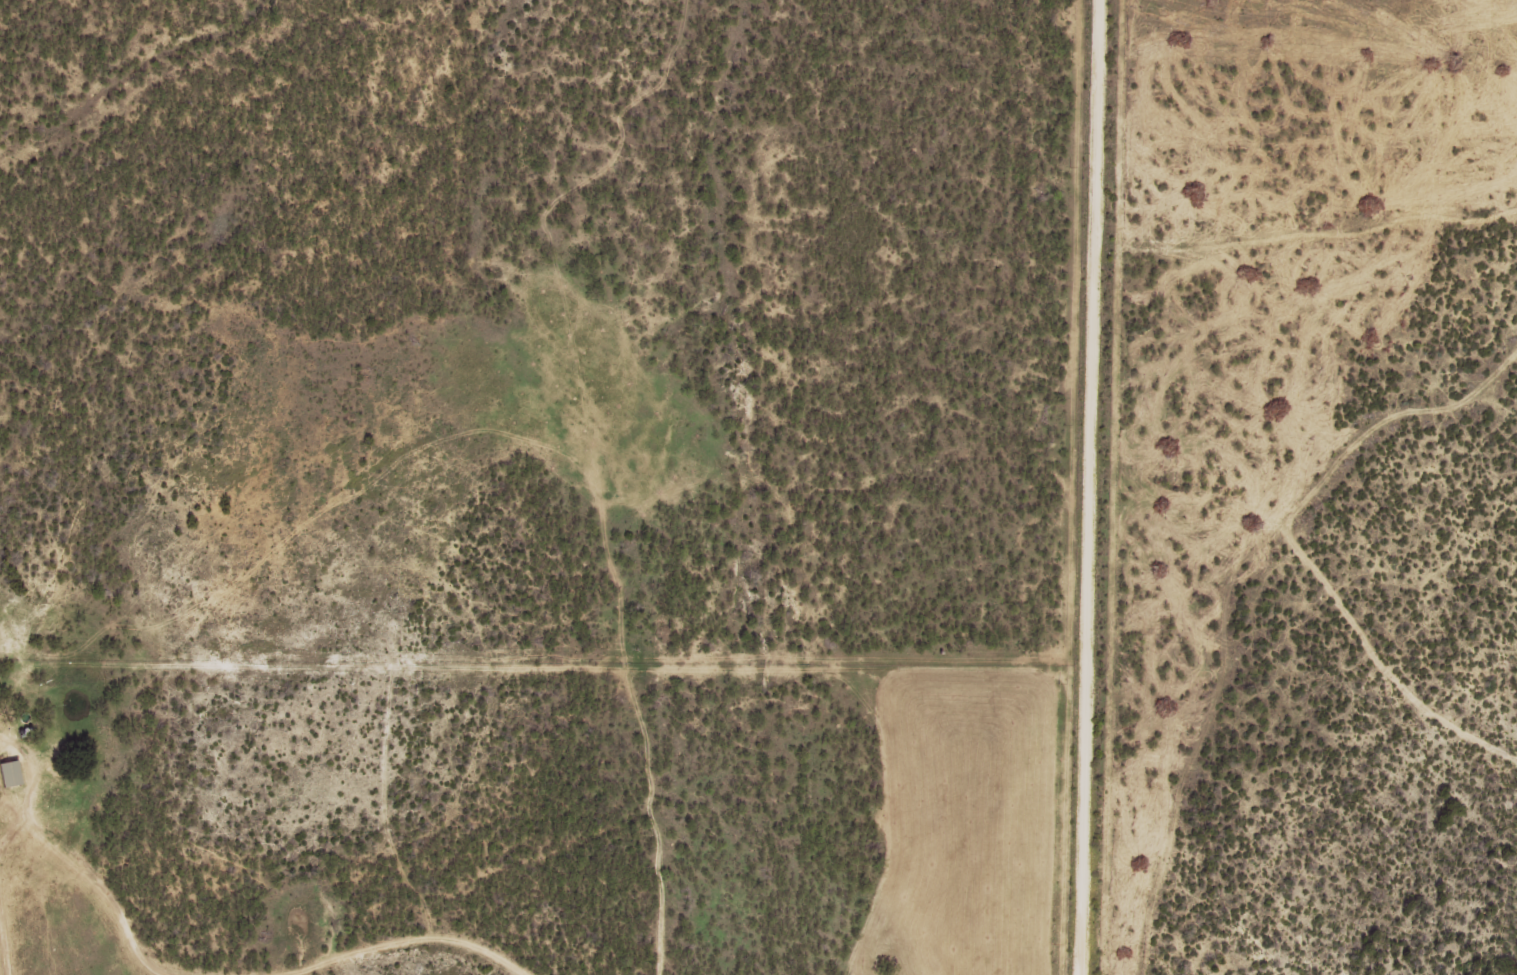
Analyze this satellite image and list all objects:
road: (1090, 487)
building: (10, 774)
road: (128, 885)
road: (468, 957)

